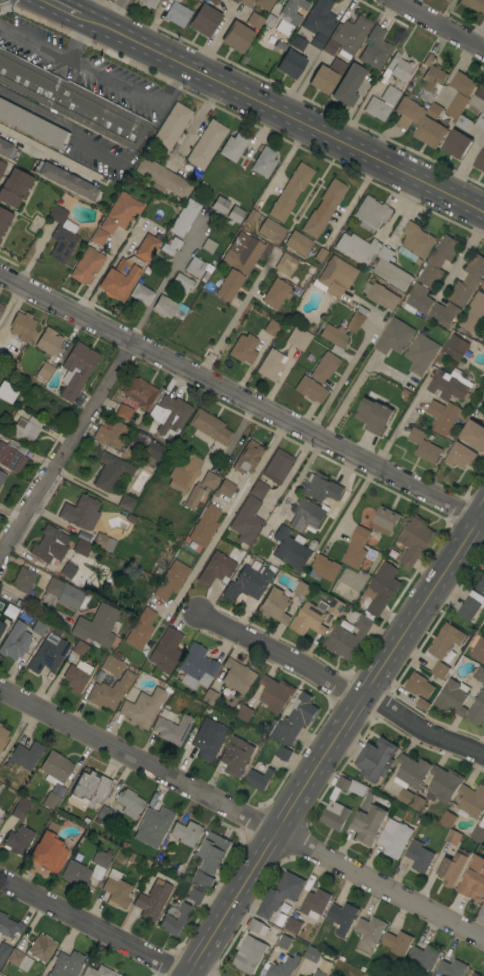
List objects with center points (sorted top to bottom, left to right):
building: (175, 0)
building: (234, 1)
building: (213, 2)
building: (246, 2)
building: (149, 3)
building: (264, 4)
building: (474, 4)
road: (62, 7)
road: (93, 10)
building: (292, 11)
road: (444, 12)
building: (177, 14)
road: (117, 15)
building: (319, 18)
building: (204, 20)
building: (253, 21)
road: (438, 24)
road: (477, 32)
building: (237, 37)
road: (78, 39)
building: (317, 41)
building: (345, 41)
road: (34, 42)
building: (298, 43)
building: (374, 49)
building: (291, 63)
building: (399, 67)
building: (432, 77)
building: (323, 79)
building: (463, 83)
building: (348, 85)
road: (134, 92)
building: (479, 99)
building: (71, 100)
building: (381, 103)
building: (457, 105)
road: (281, 113)
building: (408, 113)
building: (480, 121)
building: (464, 123)
road: (197, 124)
building: (31, 125)
building: (171, 127)
building: (432, 127)
building: (206, 144)
building: (457, 144)
building: (233, 147)
building: (6, 150)
road: (41, 153)
building: (264, 162)
road: (282, 162)
building: (480, 162)
building: (2, 167)
building: (162, 178)
building: (65, 180)
building: (14, 188)
building: (290, 192)
road: (353, 199)
building: (219, 205)
building: (323, 208)
building: (120, 213)
building: (371, 213)
building: (58, 214)
building: (235, 214)
building: (251, 216)
building: (184, 218)
building: (4, 219)
building: (270, 230)
building: (98, 237)
building: (63, 241)
building: (298, 243)
building: (416, 243)
building: (170, 246)
building: (208, 246)
building: (146, 248)
building: (357, 248)
building: (242, 252)
building: (318, 254)
building: (439, 261)
building: (285, 264)
building: (86, 266)
building: (194, 267)
building: (391, 270)
road: (94, 276)
building: (334, 277)
building: (120, 278)
building: (468, 281)
building: (182, 282)
building: (229, 285)
building: (483, 286)
building: (141, 293)
building: (276, 293)
building: (383, 296)
building: (418, 299)
building: (166, 307)
building: (1, 308)
building: (473, 313)
building: (445, 314)
road: (237, 317)
building: (357, 319)
building: (22, 325)
building: (271, 328)
building: (334, 335)
building: (394, 337)
building: (298, 338)
building: (48, 341)
building: (243, 349)
building: (453, 349)
building: (421, 354)
building: (270, 365)
building: (324, 367)
building: (76, 369)
building: (45, 370)
road: (344, 375)
building: (449, 385)
building: (310, 390)
building: (7, 391)
building: (139, 392)
building: (405, 394)
building: (483, 394)
building: (483, 396)
road: (241, 399)
road: (346, 399)
building: (123, 412)
building: (168, 413)
building: (374, 416)
road: (403, 417)
building: (445, 417)
building: (210, 427)
building: (25, 429)
building: (473, 434)
building: (112, 435)
building: (147, 446)
building: (424, 446)
road: (65, 448)
building: (12, 455)
building: (460, 455)
building: (247, 457)
building: (277, 466)
building: (111, 469)
road: (288, 471)
building: (184, 472)
building: (2, 477)
building: (209, 480)
building: (225, 488)
building: (322, 488)
building: (258, 490)
building: (194, 496)
building: (126, 503)
road: (350, 505)
building: (81, 512)
building: (309, 516)
road: (224, 517)
building: (246, 520)
building: (385, 521)
building: (204, 526)
building: (415, 540)
building: (103, 541)
building: (50, 545)
building: (82, 548)
building: (357, 548)
building: (290, 549)
building: (483, 566)
building: (326, 568)
building: (216, 569)
building: (67, 570)
building: (24, 580)
building: (171, 580)
building: (247, 583)
building: (303, 589)
building: (383, 589)
building: (64, 593)
building: (474, 602)
building: (275, 605)
building: (337, 607)
building: (310, 620)
building: (2, 626)
building: (96, 626)
building: (38, 628)
building: (140, 629)
building: (348, 637)
building: (13, 646)
building: (79, 648)
building: (445, 648)
building: (478, 648)
building: (166, 651)
building: (48, 653)
building: (112, 665)
building: (196, 667)
building: (479, 674)
building: (238, 677)
building: (75, 679)
building: (417, 684)
road: (341, 685)
building: (110, 691)
building: (276, 694)
building: (209, 697)
building: (453, 698)
building: (142, 708)
building: (477, 710)
building: (245, 713)
building: (295, 720)
building: (0, 725)
building: (172, 729)
building: (3, 737)
building: (208, 739)
road: (331, 739)
building: (284, 754)
building: (25, 755)
building: (236, 758)
building: (376, 759)
building: (55, 767)
building: (412, 772)
building: (259, 779)
building: (444, 784)
building: (0, 786)
building: (89, 789)
building: (406, 797)
building: (51, 801)
building: (472, 801)
building: (128, 802)
building: (418, 804)
building: (335, 806)
building: (20, 809)
building: (0, 812)
road: (242, 813)
building: (102, 816)
building: (483, 817)
building: (448, 819)
building: (0, 820)
building: (368, 821)
building: (153, 826)
building: (478, 832)
building: (185, 833)
building: (454, 837)
building: (395, 838)
building: (18, 840)
building: (48, 850)
building: (215, 851)
building: (420, 856)
building: (101, 859)
building: (453, 867)
building: (76, 874)
building: (203, 879)
building: (473, 880)
building: (116, 890)
building: (198, 894)
building: (280, 895)
building: (152, 900)
building: (315, 903)
building: (483, 904)
building: (342, 918)
building: (175, 919)
building: (293, 925)
building: (9, 927)
road: (95, 927)
building: (258, 927)
building: (370, 933)
building: (285, 942)
building: (398, 943)
building: (40, 947)
building: (3, 951)
building: (250, 954)
building: (313, 954)
building: (425, 957)
building: (19, 960)
building: (66, 964)
building: (284, 966)
building: (452, 968)
building: (96, 971)
building: (319, 973)
building: (476, 974)
building: (120, 975)
building: (122, 975)
building: (299, 975)

